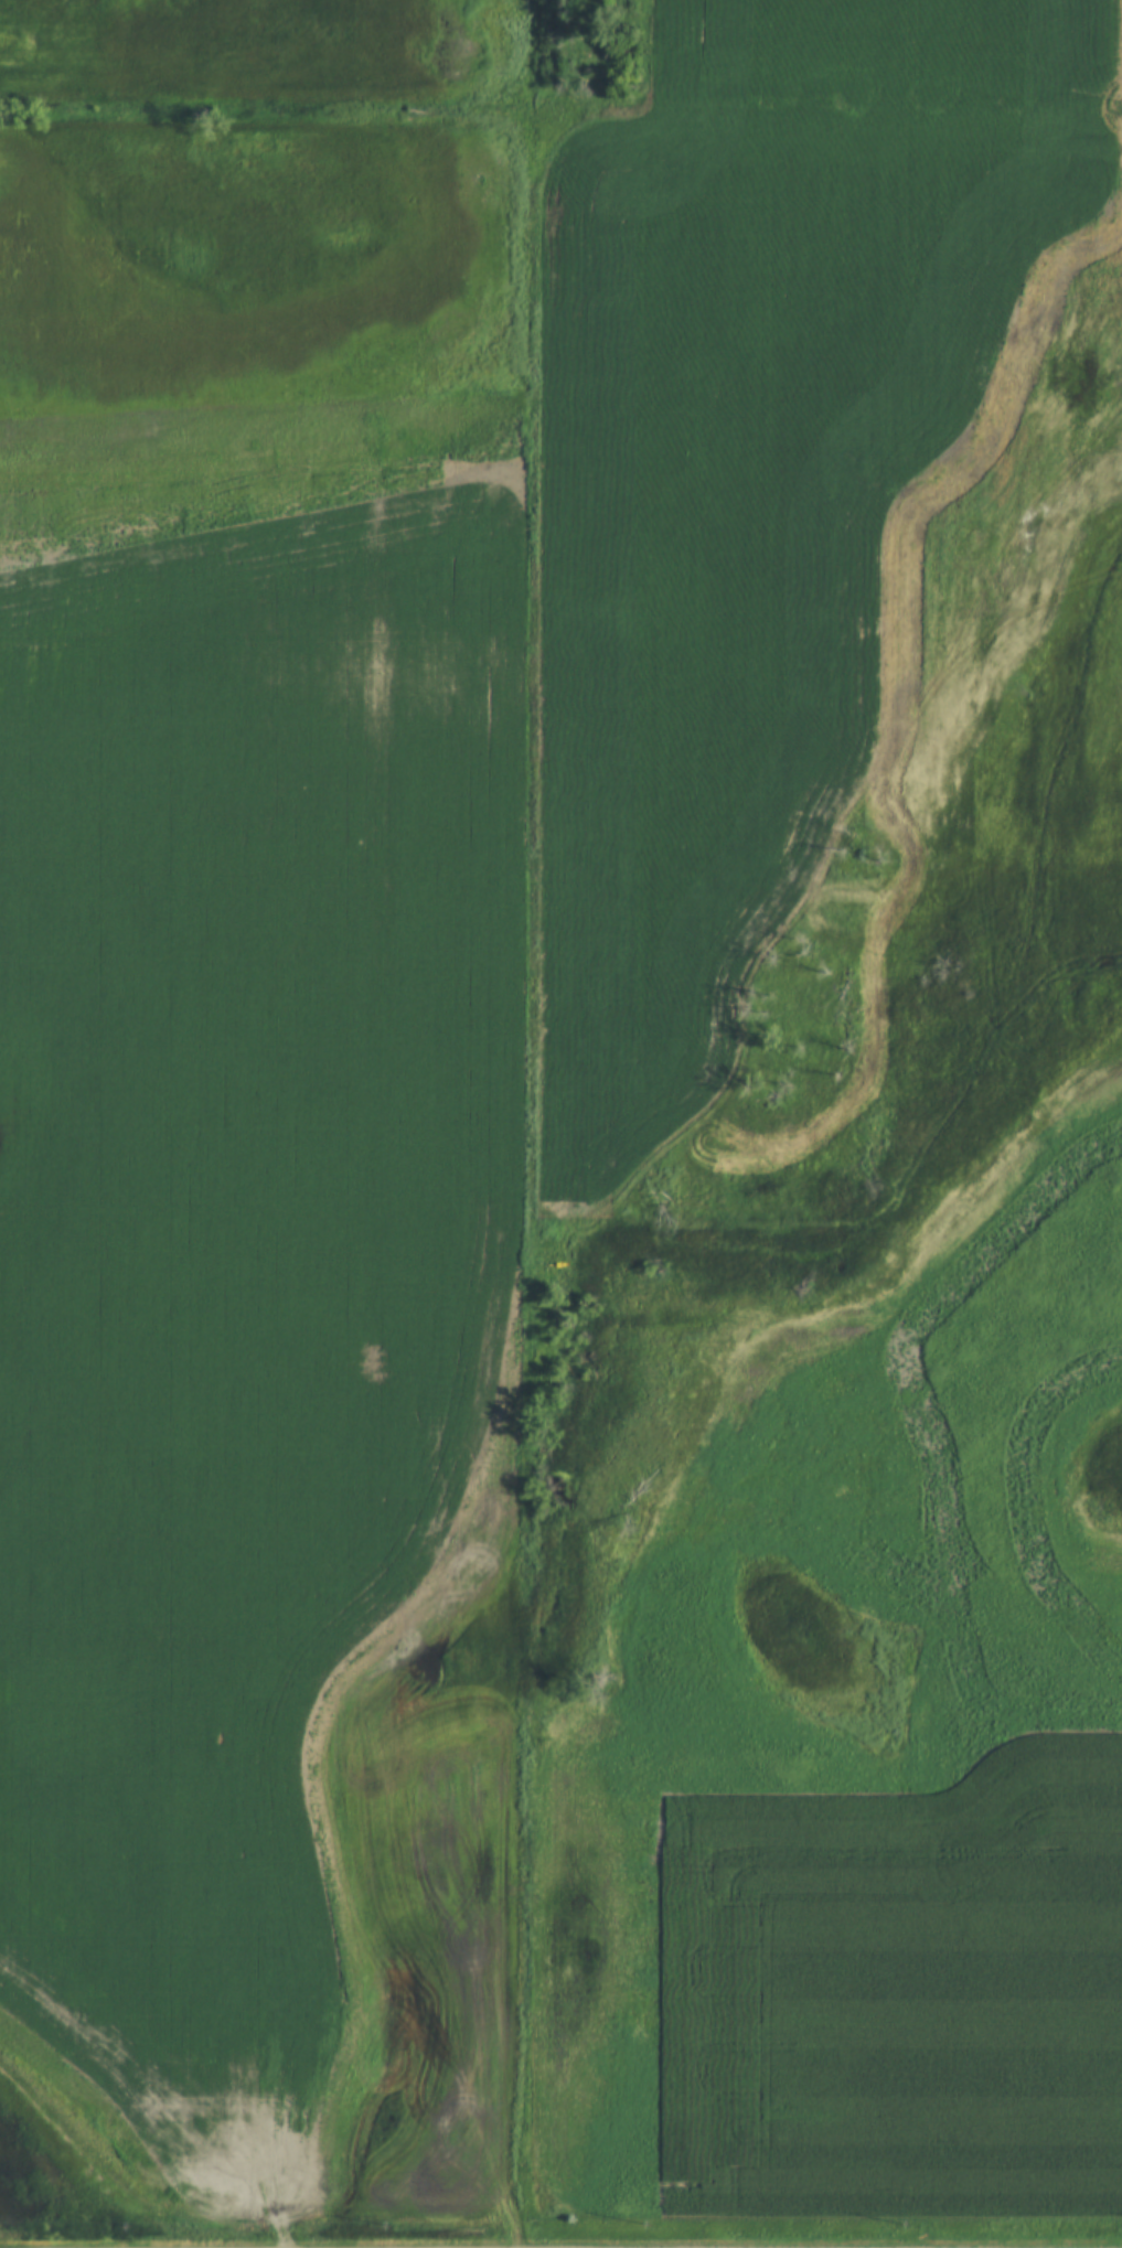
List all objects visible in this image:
crop: (894, 36)
crop: (501, 55)
crop: (247, 1219)
road: (348, 2130)

